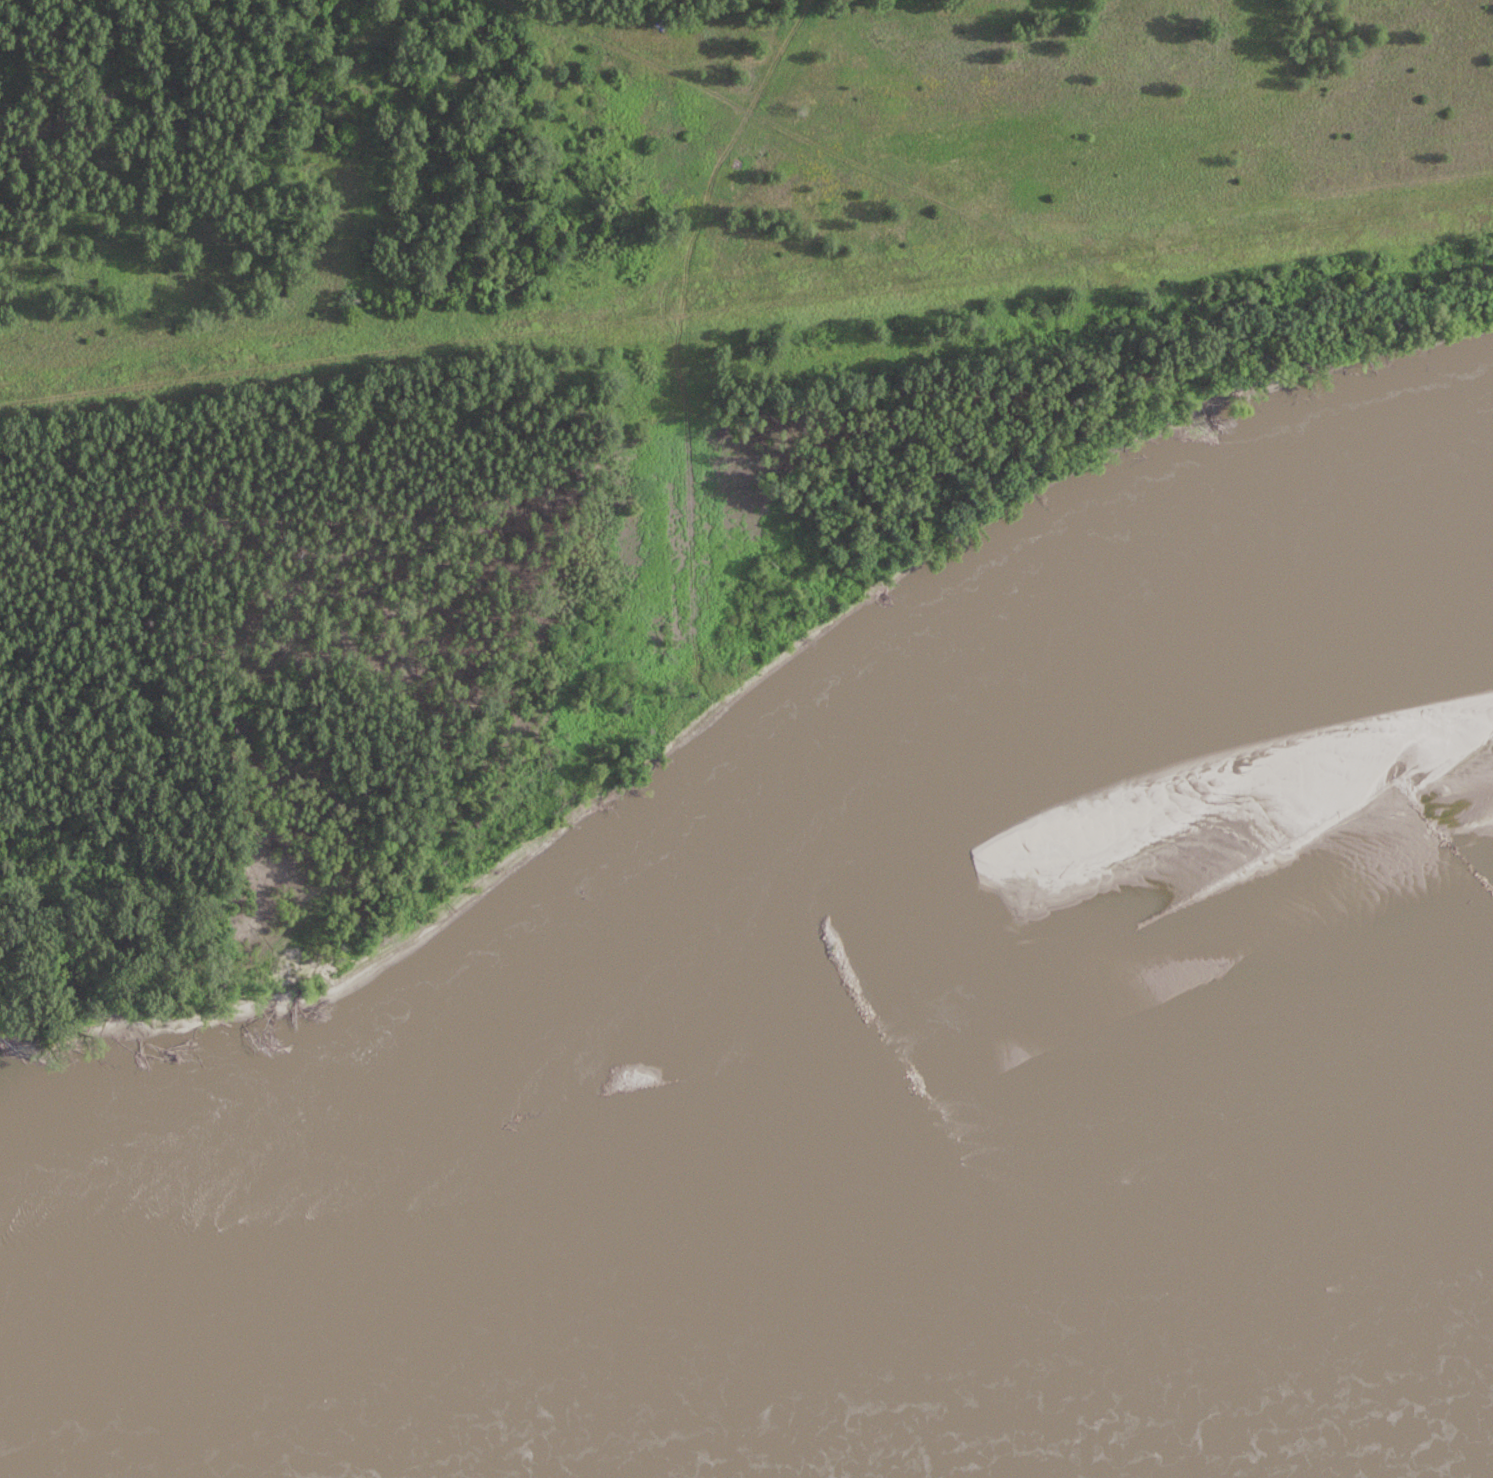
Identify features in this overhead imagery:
river: (1192, 1422)

